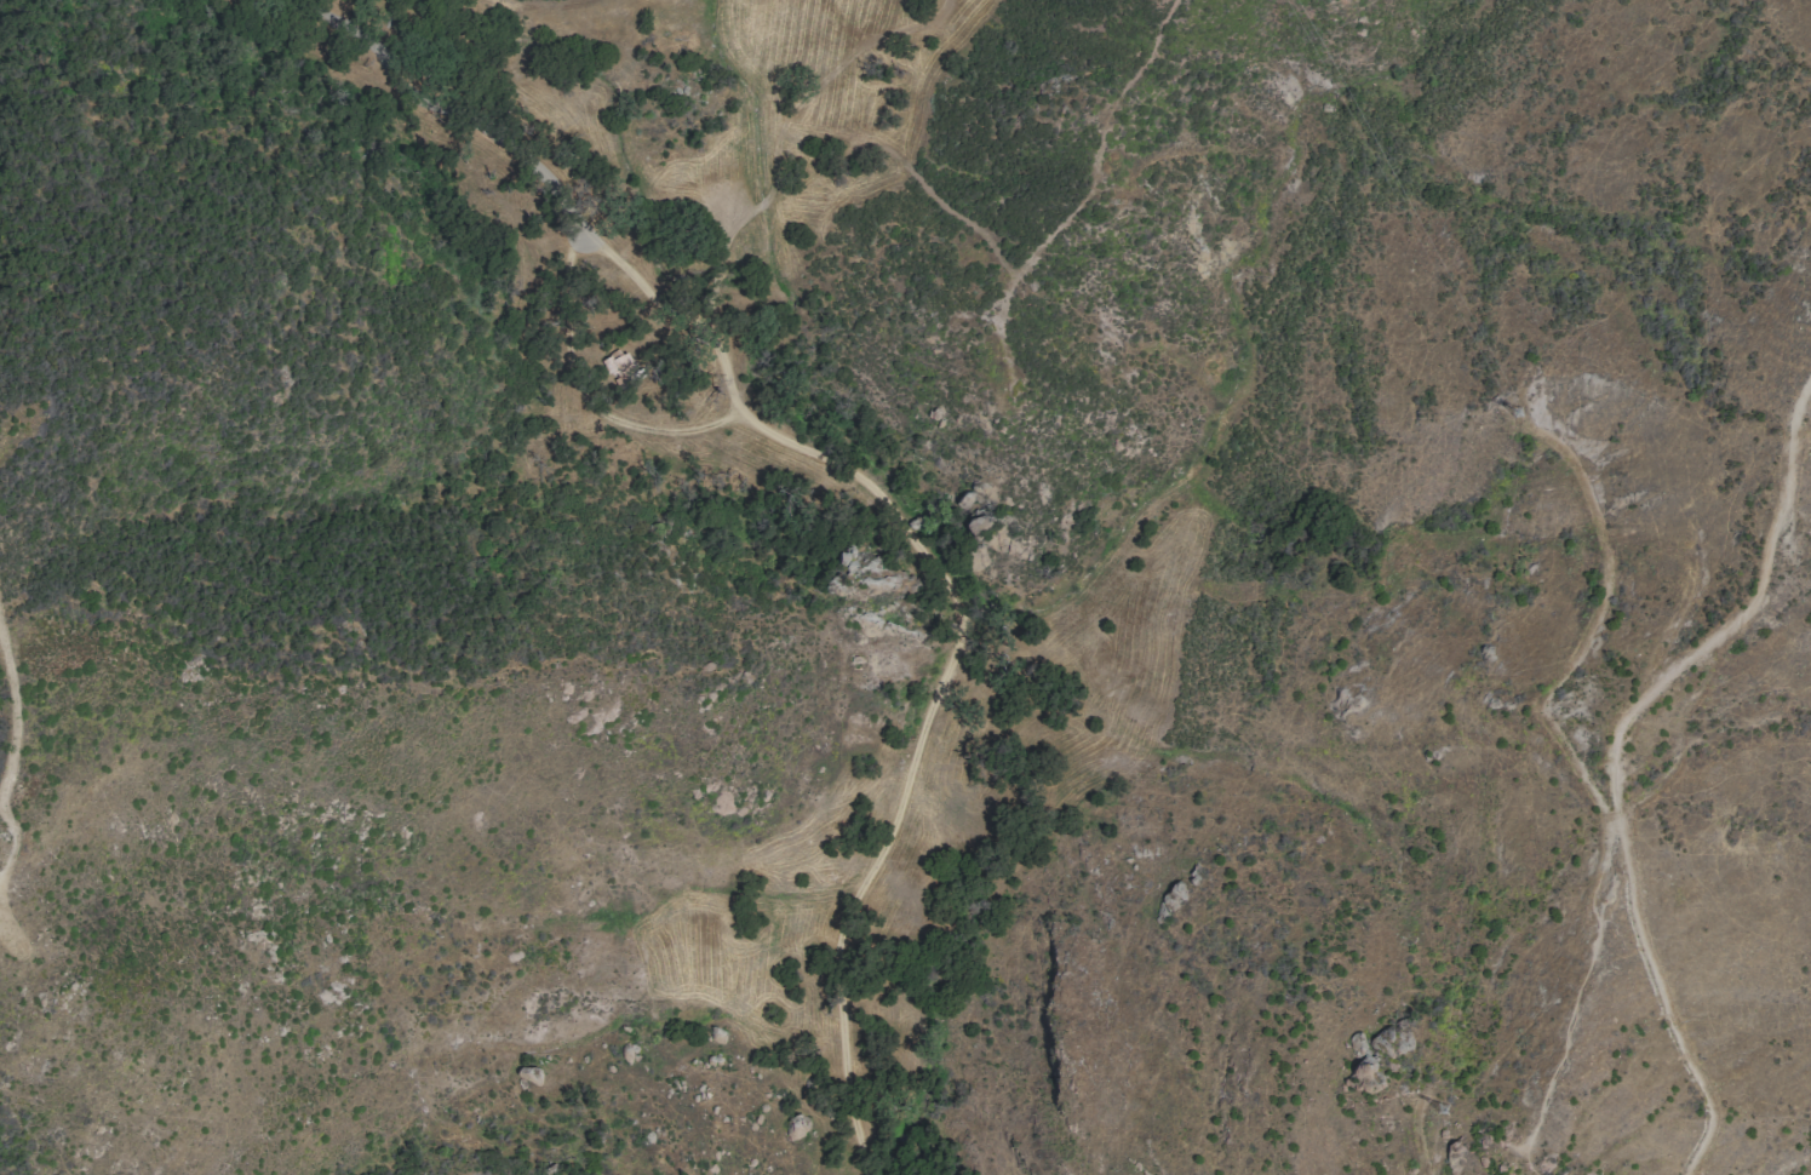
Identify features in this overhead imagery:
road: (758, 74)
road: (783, 134)
road: (1099, 143)
road: (940, 202)
building: (623, 368)
power tower: (1517, 413)
road: (855, 472)
road: (1584, 638)
road: (1615, 753)
power tower: (1451, 1111)
road: (1421, 1135)

